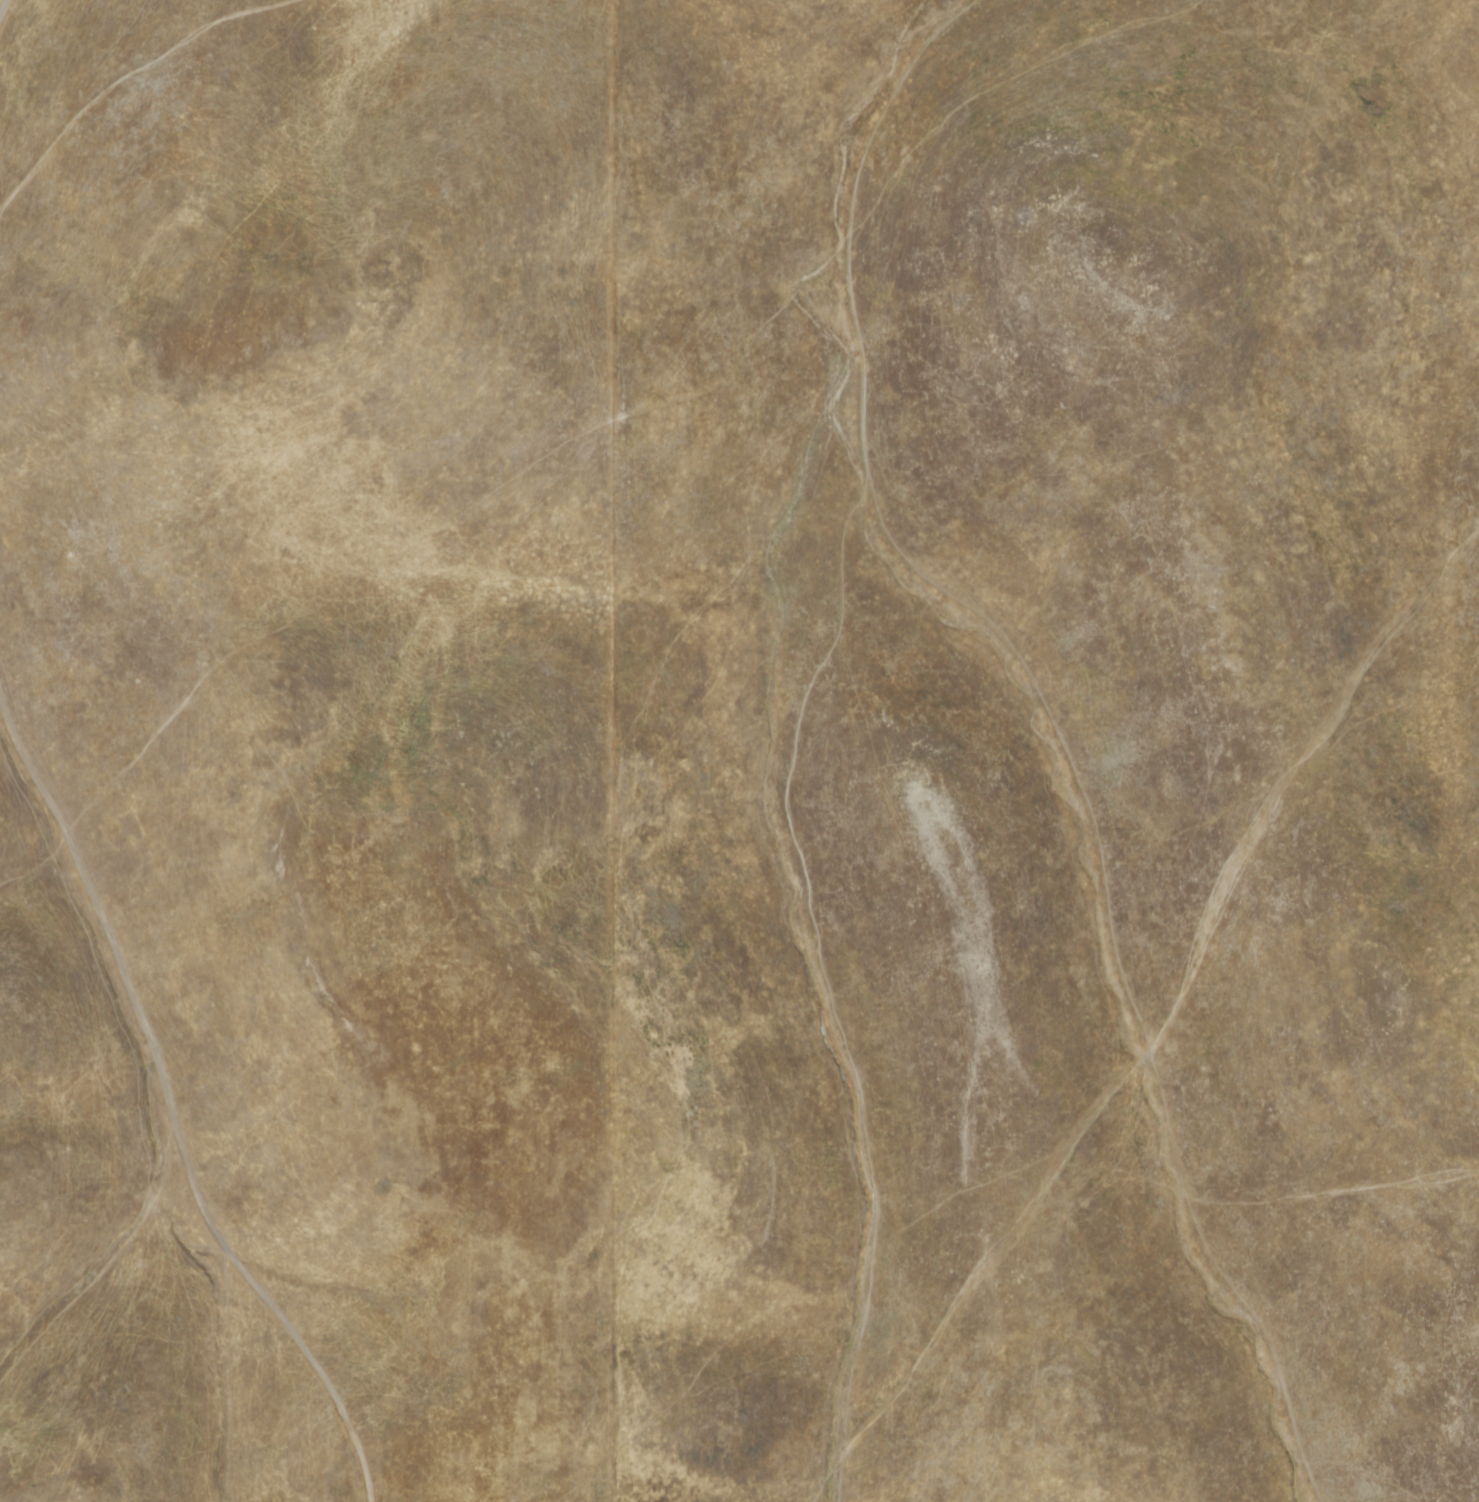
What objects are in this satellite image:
road: (3, 7)
road: (1054, 721)
road: (171, 1111)

